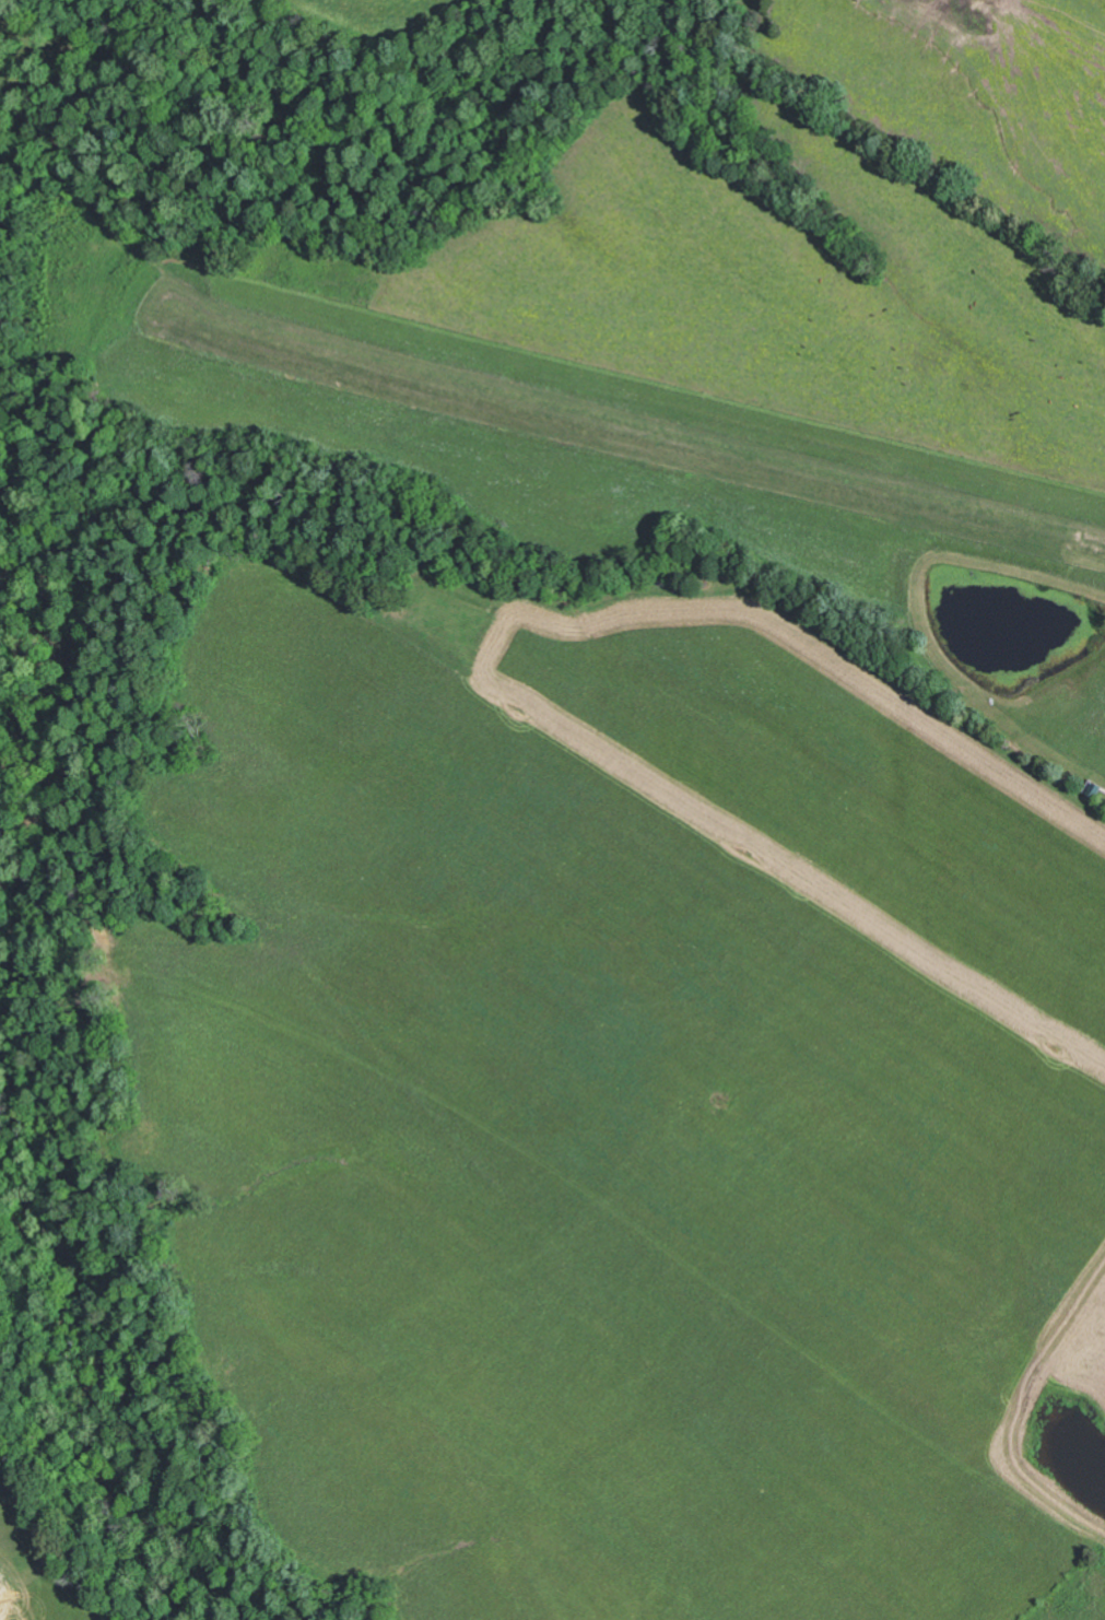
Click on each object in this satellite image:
road: (926, 1565)

